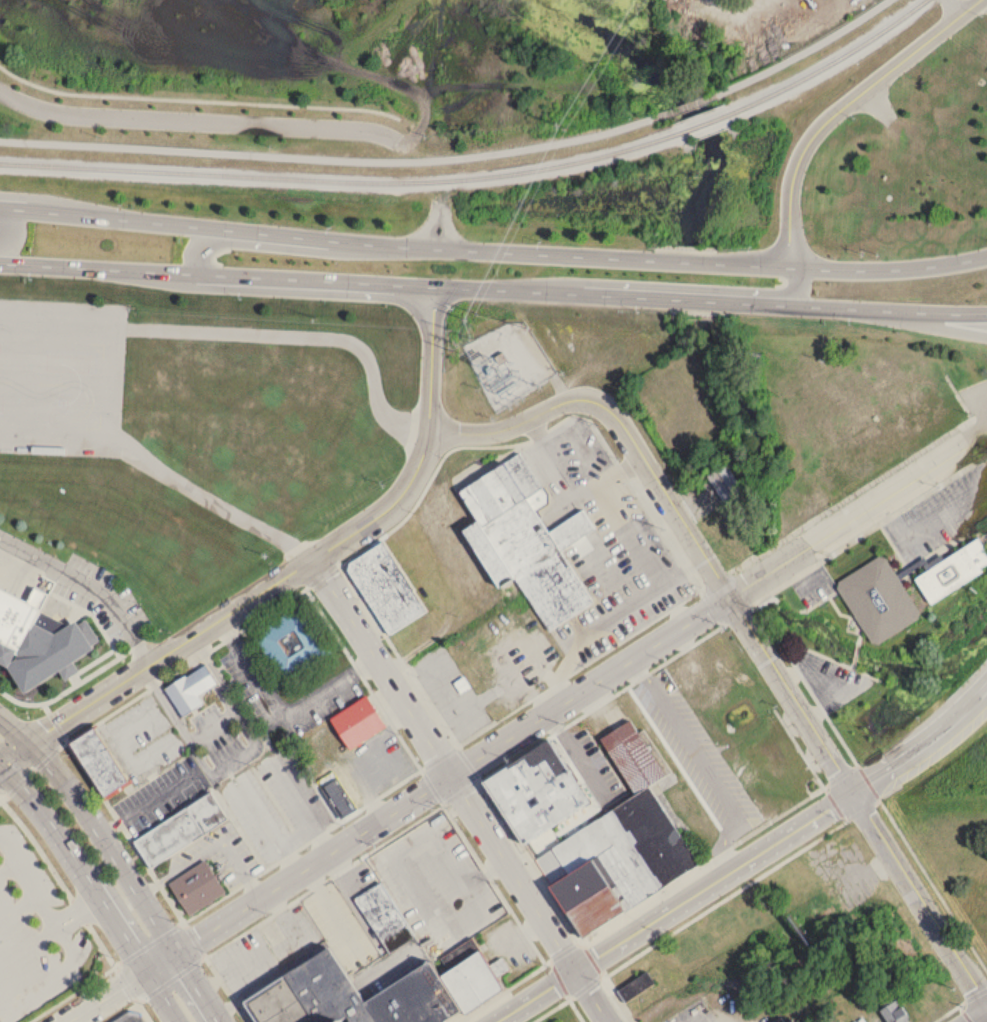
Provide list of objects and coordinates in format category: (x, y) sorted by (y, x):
road: (801, 50)
road: (197, 99)
road: (684, 105)
road: (842, 108)
road: (197, 120)
road: (328, 155)
railway: (480, 175)
road: (440, 226)
road: (11, 230)
road: (307, 248)
road: (493, 251)
road: (678, 287)
road: (493, 289)
road: (59, 308)
road: (920, 323)
road: (301, 335)
power substation: (508, 361)
road: (116, 375)
building: (883, 425)
road: (166, 473)
building: (725, 483)
road: (571, 491)
road: (946, 511)
road: (861, 521)
road: (630, 534)
building: (526, 539)
road: (685, 571)
building: (952, 571)
road: (296, 577)
road: (92, 585)
building: (385, 587)
building: (877, 600)
road: (677, 606)
road: (750, 626)
road: (588, 628)
building: (42, 641)
building: (296, 644)
building: (191, 688)
road: (283, 714)
building: (357, 721)
road: (923, 750)
road: (49, 755)
building: (632, 755)
building: (101, 759)
road: (233, 759)
road: (420, 768)
road: (696, 770)
road: (3, 772)
building: (536, 790)
building: (336, 793)
road: (463, 793)
parking lot: (161, 795)
road: (149, 802)
parking lot: (276, 803)
road: (402, 811)
building: (181, 829)
road: (211, 849)
parking lot: (221, 855)
building: (616, 860)
road: (119, 862)
road: (8, 869)
road: (27, 879)
parking lot: (437, 884)
building: (196, 886)
road: (92, 889)
road: (74, 906)
building: (372, 906)
road: (19, 907)
road: (679, 908)
road: (82, 918)
road: (86, 923)
road: (57, 925)
parking lot: (37, 934)
road: (28, 941)
road: (71, 944)
building: (468, 973)
road: (40, 982)
building: (635, 987)
building: (348, 995)
building: (894, 1013)
building: (130, 1017)
road: (979, 1017)
building: (780, 1020)

